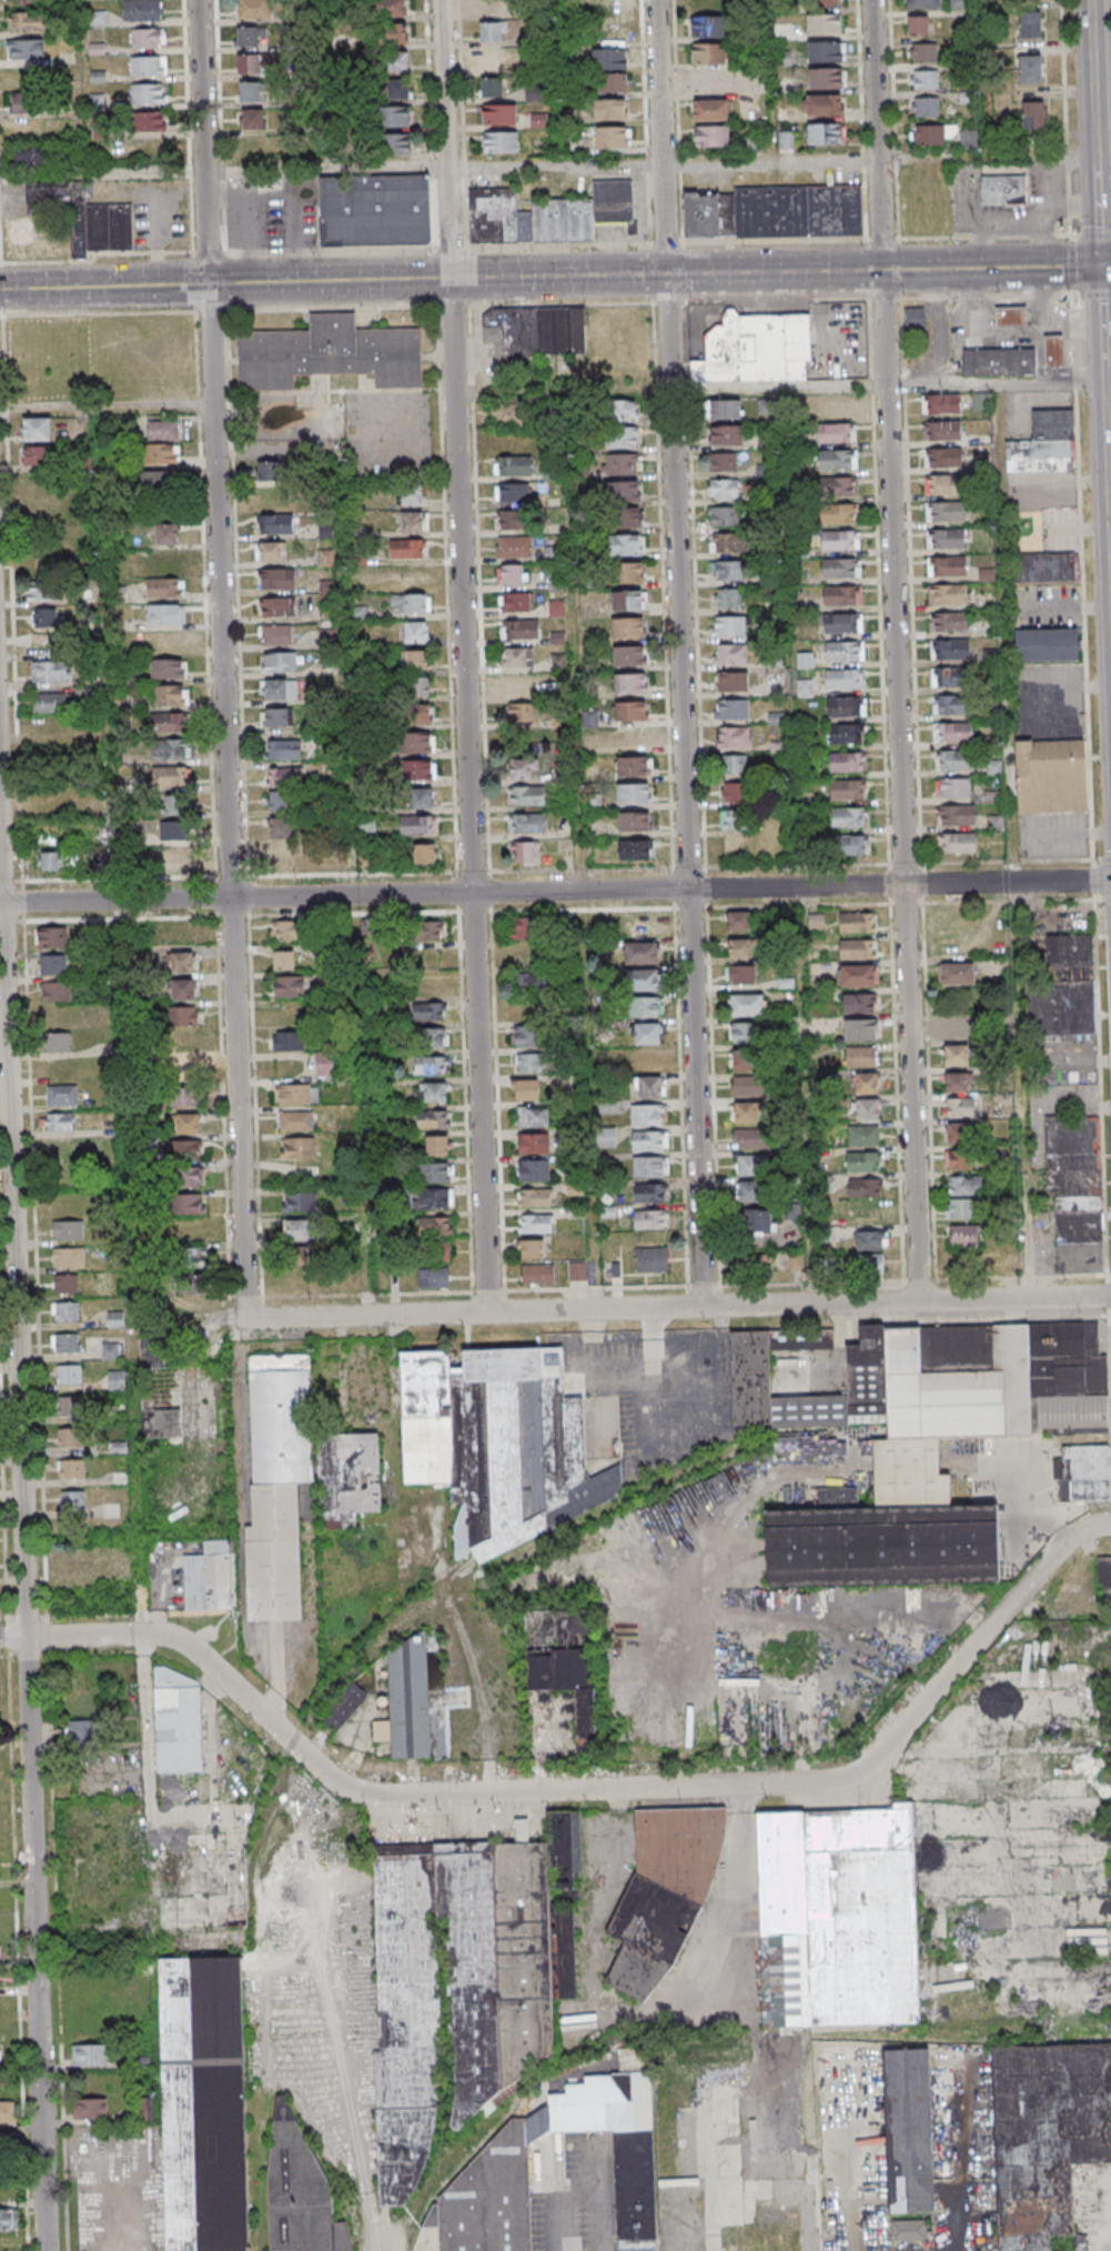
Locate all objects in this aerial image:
building: (922, 3)
building: (960, 3)
building: (494, 7)
building: (391, 8)
building: (608, 8)
building: (248, 9)
building: (142, 11)
building: (27, 22)
building: (822, 24)
building: (918, 24)
building: (1030, 24)
building: (707, 27)
building: (491, 33)
building: (390, 34)
building: (248, 37)
building: (147, 40)
building: (26, 49)
building: (825, 51)
building: (923, 52)
building: (708, 54)
building: (609, 59)
building: (495, 61)
building: (397, 62)
building: (249, 66)
building: (148, 68)
building: (1029, 69)
road: (984, 77)
building: (826, 78)
building: (925, 79)
building: (613, 82)
building: (709, 82)
building: (398, 89)
building: (492, 89)
building: (250, 92)
building: (534, 93)
building: (148, 96)
building: (27, 103)
building: (821, 104)
building: (925, 107)
building: (609, 109)
building: (710, 111)
building: (499, 114)
building: (1033, 115)
building: (393, 117)
road: (1067, 118)
building: (252, 120)
road: (862, 120)
road: (647, 121)
building: (148, 122)
building: (824, 133)
building: (929, 135)
building: (610, 137)
building: (711, 137)
building: (969, 139)
building: (786, 141)
building: (501, 142)
building: (396, 143)
building: (754, 145)
road: (888, 155)
building: (28, 158)
road: (556, 167)
road: (223, 172)
building: (1001, 191)
building: (377, 209)
building: (772, 212)
building: (549, 214)
building: (65, 223)
road: (1094, 235)
road: (1075, 237)
road: (756, 241)
road: (1104, 258)
traffic signals: (1105, 264)
road: (1073, 265)
road: (555, 277)
traffic signals: (208, 283)
building: (1013, 315)
building: (913, 318)
road: (1071, 318)
building: (533, 332)
road: (1006, 334)
building: (756, 349)
building: (1056, 350)
building: (329, 353)
road: (1039, 358)
building: (1001, 361)
road: (780, 385)
road: (107, 402)
building: (980, 402)
building: (834, 405)
building: (941, 405)
building: (725, 409)
building: (624, 410)
building: (513, 413)
building: (37, 429)
building: (163, 431)
road: (908, 431)
building: (942, 432)
building: (835, 433)
building: (725, 434)
building: (622, 438)
building: (1043, 444)
road: (255, 448)
building: (162, 454)
building: (37, 455)
building: (837, 459)
building: (943, 459)
building: (724, 461)
building: (622, 463)
building: (513, 466)
building: (269, 472)
building: (158, 481)
building: (942, 485)
building: (841, 486)
building: (724, 489)
building: (623, 490)
building: (513, 493)
building: (412, 495)
building: (839, 512)
building: (945, 512)
building: (724, 515)
building: (627, 517)
building: (512, 521)
building: (414, 522)
building: (276, 524)
building: (325, 531)
building: (165, 534)
building: (839, 540)
building: (945, 540)
building: (728, 542)
building: (627, 544)
building: (514, 547)
building: (404, 549)
building: (270, 551)
building: (552, 554)
building: (325, 557)
building: (946, 566)
building: (1042, 566)
building: (840, 567)
building: (728, 571)
building: (630, 572)
building: (511, 574)
building: (986, 575)
building: (414, 576)
building: (276, 579)
building: (164, 587)
building: (326, 587)
building: (43, 591)
building: (947, 593)
building: (841, 595)
building: (727, 600)
building: (628, 601)
building: (410, 602)
building: (514, 602)
building: (276, 606)
building: (556, 609)
building: (165, 614)
building: (44, 617)
building: (948, 621)
building: (841, 623)
building: (727, 627)
building: (627, 629)
building: (519, 630)
building: (416, 632)
building: (275, 635)
building: (325, 639)
building: (1047, 644)
building: (949, 649)
road: (899, 651)
building: (845, 652)
road: (681, 653)
road: (466, 655)
building: (729, 655)
building: (517, 656)
building: (628, 656)
building: (416, 660)
building: (279, 663)
road: (225, 665)
building: (168, 667)
building: (50, 670)
building: (947, 676)
building: (844, 680)
building: (731, 682)
building: (629, 684)
building: (418, 685)
building: (519, 685)
building: (279, 691)
building: (170, 694)
building: (51, 702)
building: (950, 704)
building: (846, 706)
building: (730, 711)
building: (629, 712)
building: (522, 713)
building: (418, 714)
building: (277, 717)
building: (589, 720)
road: (350, 721)
building: (166, 722)
building: (951, 733)
building: (844, 734)
building: (733, 737)
building: (632, 738)
building: (417, 742)
building: (170, 750)
building: (284, 750)
building: (953, 760)
building: (847, 762)
building: (633, 765)
building: (734, 765)
building: (521, 768)
building: (418, 770)
building: (1054, 775)
building: (170, 776)
building: (284, 777)
building: (951, 787)
building: (847, 790)
building: (634, 793)
building: (735, 793)
building: (526, 796)
building: (421, 797)
building: (279, 802)
building: (172, 806)
building: (956, 814)
building: (848, 818)
building: (634, 821)
building: (734, 821)
building: (999, 822)
building: (526, 824)
building: (418, 825)
building: (280, 828)
building: (173, 832)
road: (1012, 841)
building: (956, 842)
building: (850, 845)
building: (635, 850)
road: (582, 851)
building: (424, 853)
building: (524, 854)
building: (281, 855)
building: (175, 860)
building: (366, 860)
building: (50, 861)
road: (555, 892)
building: (781, 917)
building: (738, 921)
building: (856, 922)
building: (639, 926)
building: (525, 927)
building: (285, 929)
building: (428, 929)
building: (372, 932)
building: (51, 937)
road: (119, 938)
building: (739, 947)
building: (857, 948)
building: (640, 954)
building: (283, 959)
building: (182, 962)
building: (53, 964)
building: (741, 974)
building: (857, 975)
building: (956, 975)
building: (642, 981)
building: (529, 982)
building: (287, 985)
building: (183, 988)
building: (1061, 988)
building: (55, 991)
building: (858, 1003)
building: (746, 1004)
building: (645, 1007)
building: (428, 1012)
building: (184, 1015)
building: (860, 1029)
building: (957, 1029)
building: (745, 1032)
building: (648, 1034)
building: (525, 1036)
building: (432, 1038)
building: (287, 1041)
building: (57, 1042)
building: (185, 1043)
road: (805, 1054)
building: (861, 1056)
building: (955, 1056)
building: (745, 1059)
building: (650, 1061)
building: (527, 1063)
building: (324, 1064)
building: (431, 1066)
building: (192, 1071)
building: (1058, 1077)
building: (866, 1083)
building: (957, 1083)
building: (748, 1085)
building: (649, 1086)
building: (526, 1089)
building: (432, 1093)
building: (296, 1094)
building: (61, 1095)
building: (186, 1096)
building: (959, 1108)
building: (867, 1109)
building: (748, 1112)
building: (647, 1114)
building: (532, 1115)
building: (294, 1121)
building: (432, 1121)
building: (59, 1122)
building: (186, 1123)
building: (606, 1132)
building: (958, 1133)
building: (862, 1136)
building: (751, 1137)
building: (649, 1140)
building: (533, 1143)
building: (436, 1145)
building: (297, 1147)
building: (185, 1149)
building: (956, 1159)
building: (863, 1160)
building: (751, 1165)
building: (649, 1166)
building: (534, 1169)
building: (434, 1172)
building: (190, 1177)
building: (963, 1186)
building: (865, 1187)
building: (748, 1190)
building: (649, 1193)
building: (1075, 1194)
building: (534, 1197)
building: (435, 1198)
building: (300, 1200)
building: (189, 1205)
building: (959, 1208)
building: (794, 1210)
building: (867, 1213)
building: (652, 1219)
building: (758, 1220)
building: (535, 1223)
building: (435, 1225)
building: (297, 1229)
building: (71, 1232)
building: (963, 1236)
building: (870, 1240)
building: (532, 1249)
building: (434, 1250)
building: (296, 1254)
building: (72, 1258)
building: (650, 1259)
building: (872, 1262)
building: (756, 1263)
road: (367, 1266)
building: (192, 1272)
building: (577, 1272)
building: (538, 1275)
building: (433, 1277)
building: (69, 1285)
road: (689, 1307)
building: (69, 1313)
building: (70, 1344)
building: (111, 1350)
building: (867, 1374)
building: (72, 1376)
building: (115, 1380)
building: (161, 1385)
building: (1009, 1393)
road: (240, 1395)
building: (72, 1407)
building: (283, 1419)
building: (73, 1438)
building: (501, 1445)
building: (75, 1470)
building: (910, 1475)
building: (349, 1477)
road: (24, 1483)
building: (837, 1495)
building: (75, 1503)
building: (886, 1547)
building: (275, 1554)
building: (120, 1564)
building: (75, 1565)
building: (210, 1578)
building: (1105, 1580)
road: (165, 1637)
building: (566, 1664)
building: (411, 1700)
building: (346, 1706)
building: (181, 1724)
building: (80, 1731)
road: (746, 1785)
road: (163, 1821)
building: (681, 1850)
building: (566, 1859)
building: (840, 1919)
building: (650, 1938)
building: (0, 1949)
building: (564, 1954)
building: (457, 1989)
road: (648, 2008)
building: (89, 2054)
building: (210, 2103)
building: (90, 2109)
building: (4, 2111)
building: (912, 2133)
building: (1049, 2136)
building: (620, 2146)
building: (302, 2193)
building: (492, 2198)
building: (8, 2220)
road: (606, 2222)
building: (911, 2232)

